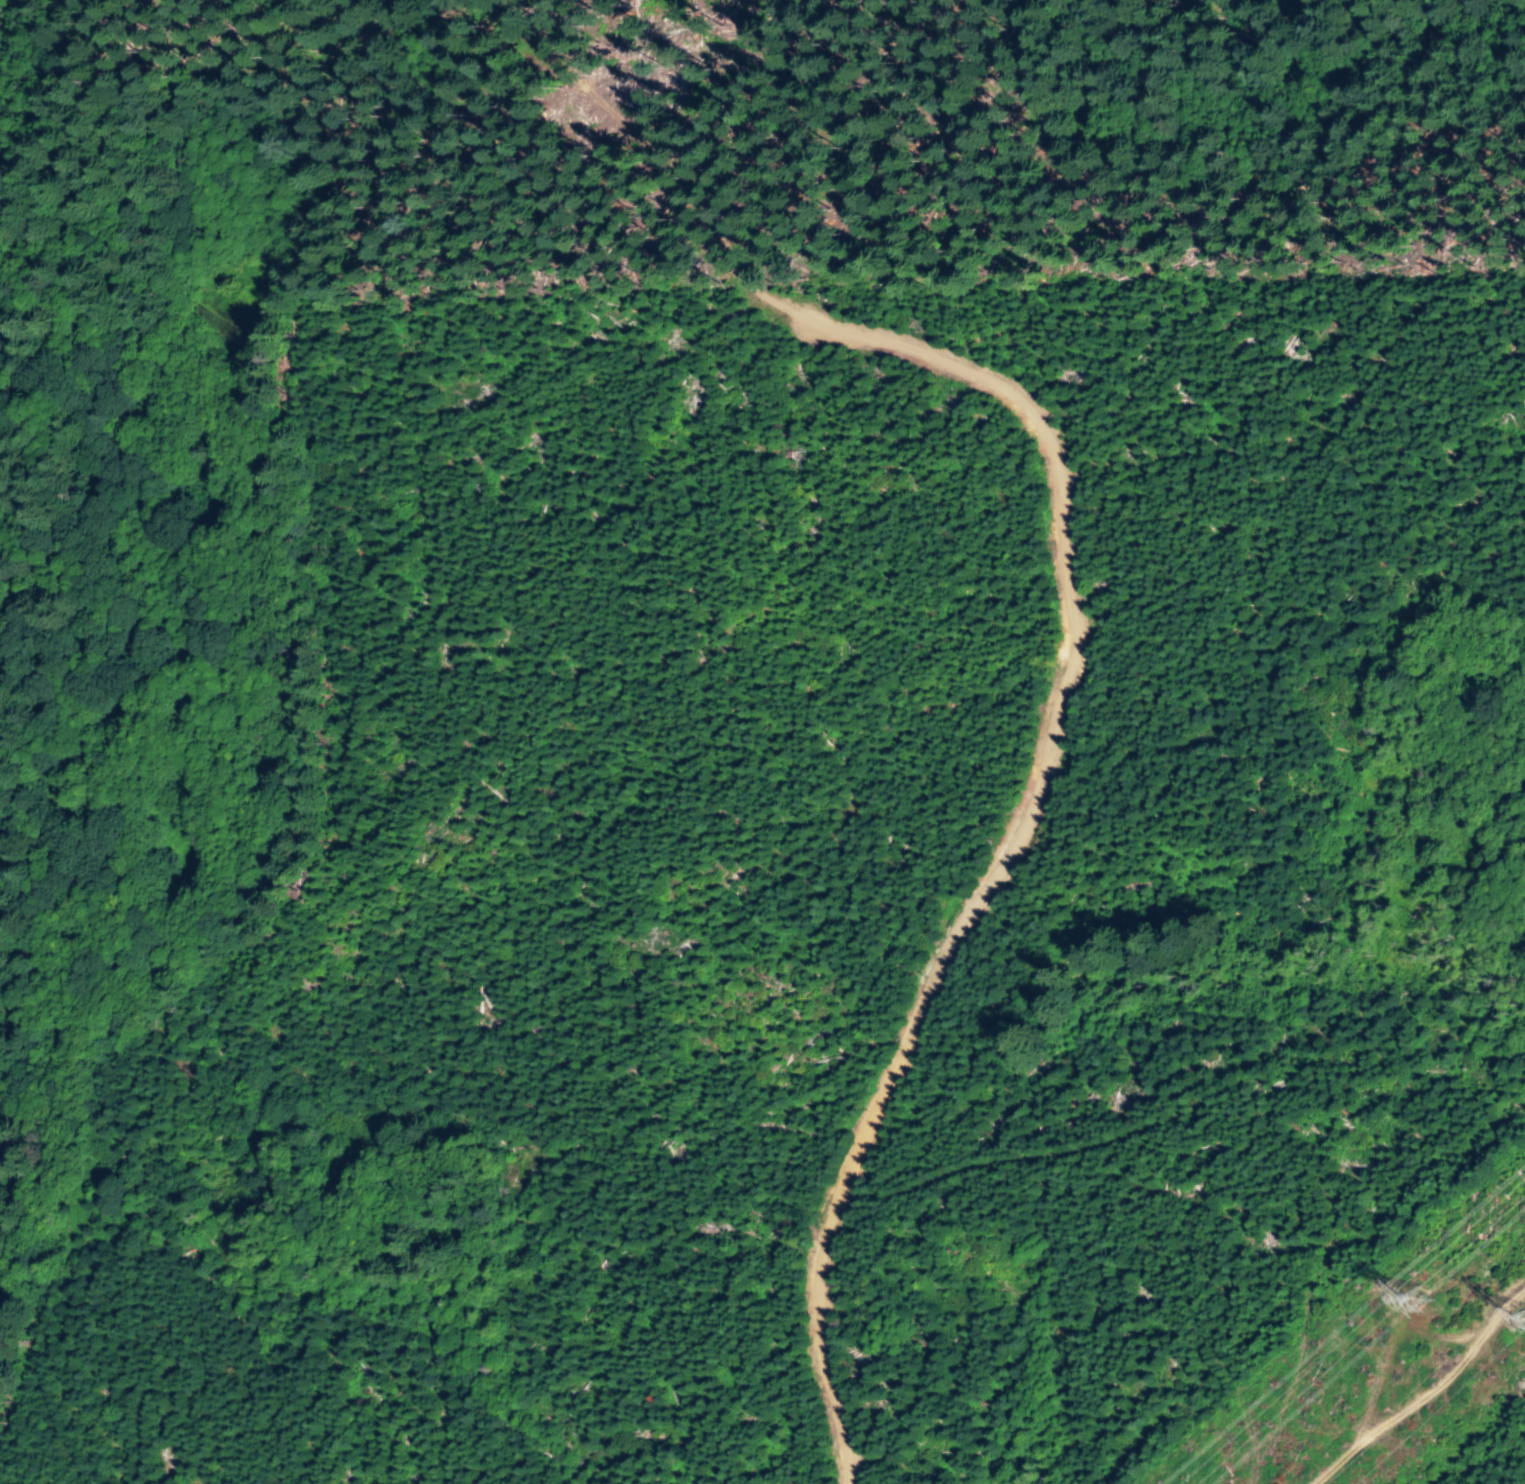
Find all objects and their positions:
road: (1063, 618)
power tower: (1427, 1306)
road: (1424, 1395)

